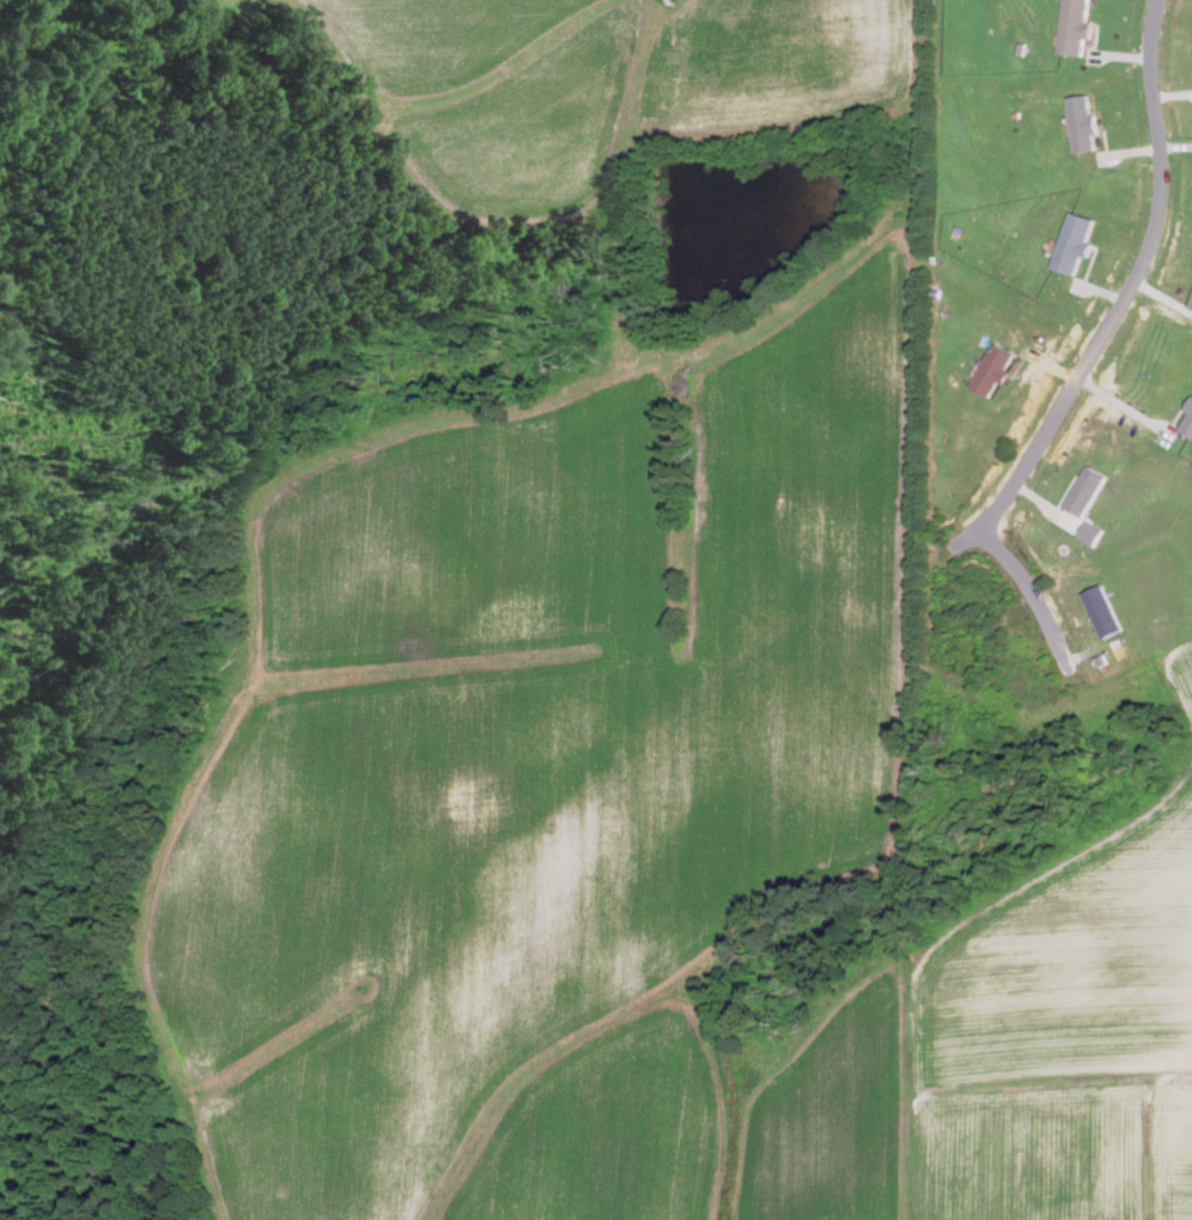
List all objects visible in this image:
building: (1077, 26)
building: (1085, 122)
building: (1076, 242)
road: (1123, 297)
building: (1191, 306)
building: (992, 371)
building: (1187, 423)
building: (1084, 491)
building: (1093, 533)
road: (1033, 594)
building: (1106, 611)

